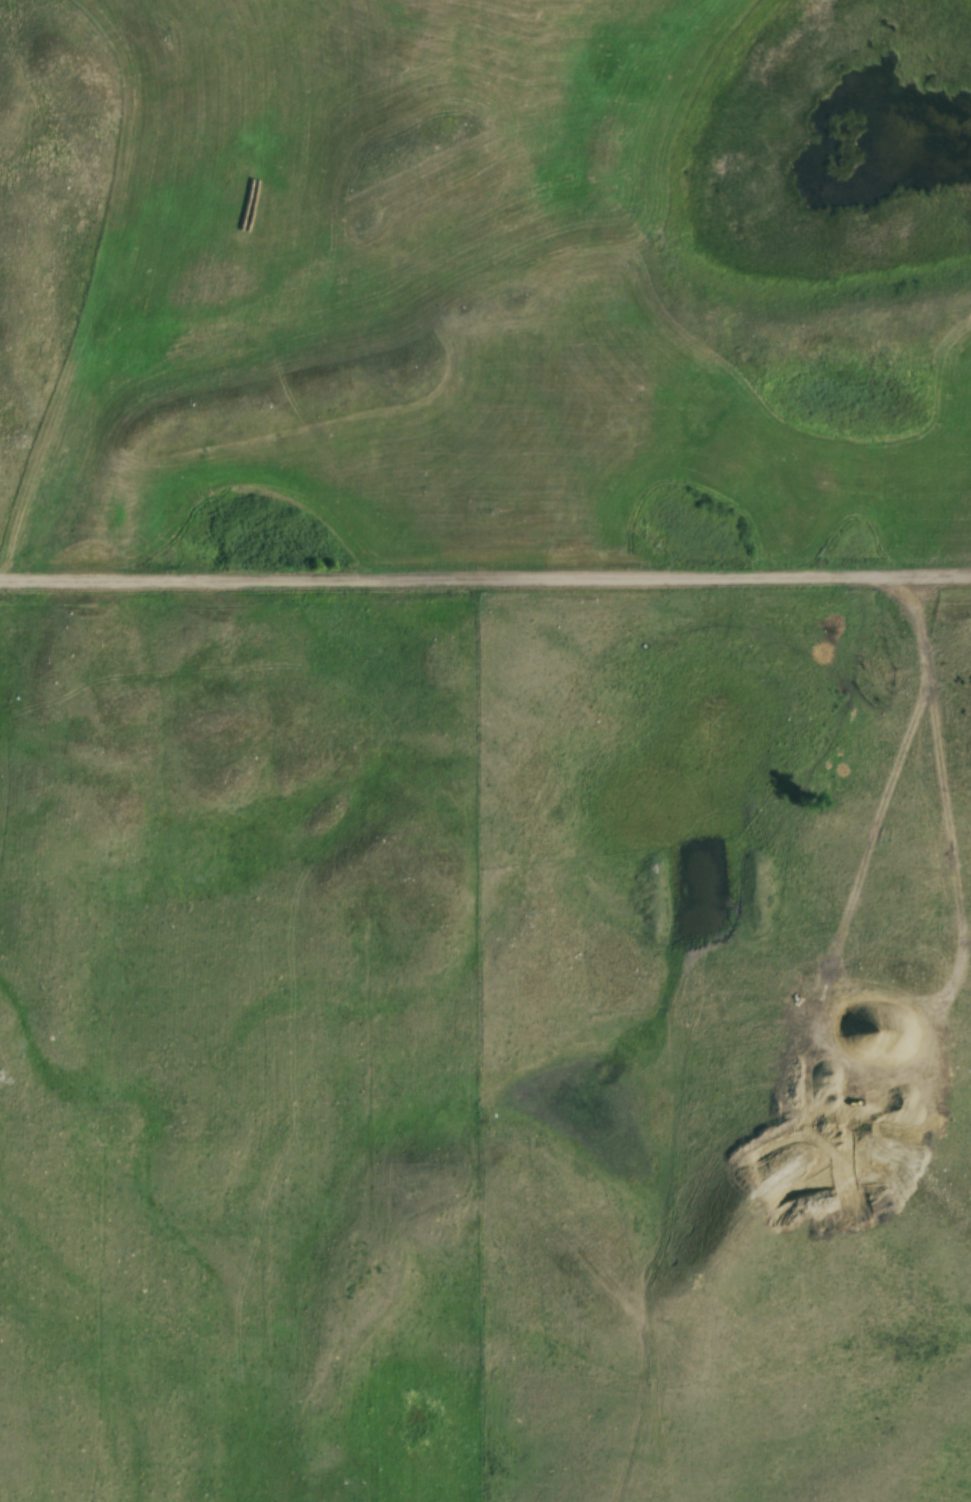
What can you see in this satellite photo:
road: (485, 579)

